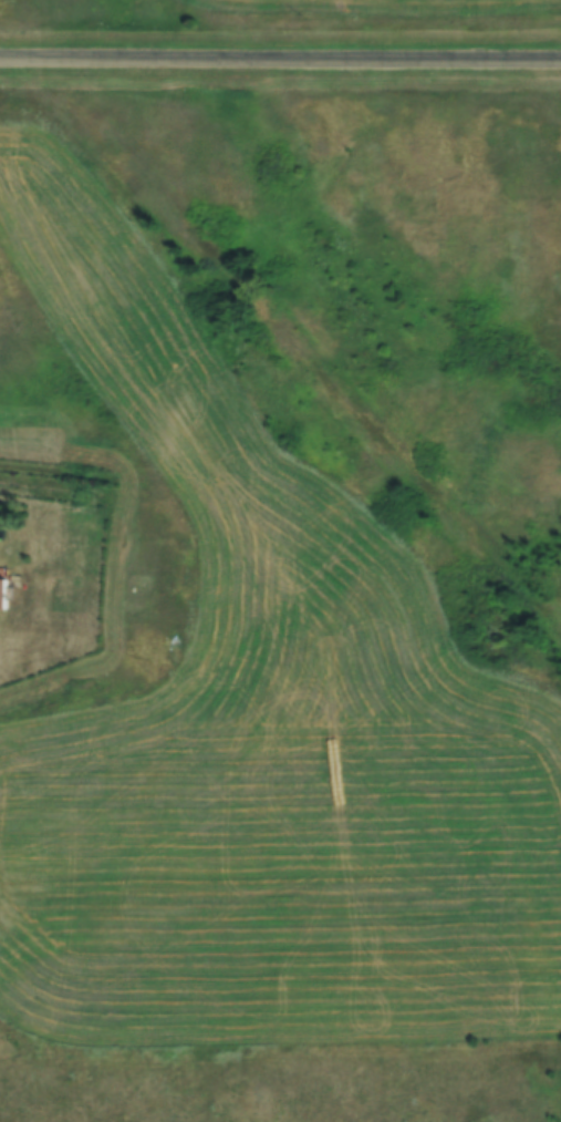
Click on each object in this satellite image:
road: (280, 56)
building: (1, 593)

